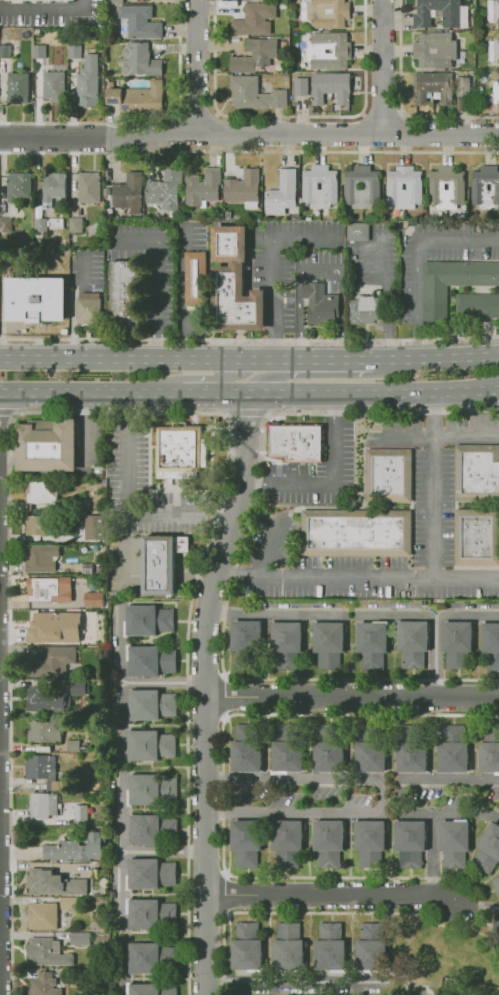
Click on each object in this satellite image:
building: (39, 1)
building: (115, 2)
road: (46, 9)
building: (493, 10)
building: (326, 13)
building: (441, 14)
building: (255, 19)
building: (138, 23)
building: (8, 48)
building: (37, 50)
building: (435, 50)
building: (494, 50)
building: (72, 51)
building: (328, 51)
building: (256, 55)
building: (139, 60)
road: (380, 66)
road: (196, 67)
building: (86, 81)
building: (52, 85)
building: (463, 86)
building: (17, 87)
building: (301, 87)
building: (433, 87)
building: (331, 88)
road: (177, 93)
building: (255, 94)
building: (494, 95)
building: (138, 98)
road: (399, 105)
road: (381, 110)
road: (197, 111)
road: (290, 117)
road: (52, 124)
road: (210, 131)
road: (395, 131)
road: (183, 132)
road: (301, 133)
road: (365, 133)
road: (52, 140)
road: (248, 152)
building: (17, 185)
building: (88, 186)
building: (310, 186)
building: (352, 186)
building: (437, 186)
building: (51, 187)
building: (404, 187)
building: (202, 188)
building: (486, 188)
building: (244, 189)
building: (166, 191)
building: (283, 191)
building: (129, 193)
building: (107, 197)
building: (38, 224)
building: (357, 231)
road: (414, 257)
road: (273, 267)
road: (318, 269)
building: (194, 277)
building: (234, 282)
building: (452, 284)
road: (153, 285)
building: (123, 295)
building: (319, 304)
road: (71, 307)
building: (477, 307)
building: (365, 310)
building: (87, 312)
road: (435, 358)
road: (329, 359)
road: (144, 360)
road: (265, 375)
road: (240, 379)
road: (374, 395)
road: (90, 396)
road: (206, 397)
road: (239, 397)
road: (441, 436)
building: (294, 441)
building: (46, 446)
building: (180, 451)
building: (477, 473)
building: (389, 476)
road: (329, 483)
road: (432, 486)
building: (43, 492)
road: (125, 510)
building: (37, 524)
building: (92, 528)
building: (355, 532)
building: (477, 538)
road: (223, 547)
building: (37, 557)
building: (160, 564)
road: (358, 577)
building: (44, 590)
building: (92, 599)
road: (354, 615)
building: (147, 618)
building: (54, 627)
building: (246, 642)
building: (287, 643)
building: (372, 643)
building: (456, 643)
building: (329, 644)
building: (415, 644)
building: (490, 644)
road: (434, 657)
building: (54, 659)
building: (151, 660)
road: (161, 681)
building: (79, 695)
building: (39, 699)
road: (352, 699)
building: (149, 703)
building: (38, 732)
building: (246, 745)
building: (287, 745)
building: (327, 746)
building: (151, 747)
building: (411, 747)
building: (369, 749)
building: (451, 749)
building: (489, 751)
building: (39, 767)
road: (117, 773)
building: (150, 791)
road: (380, 794)
building: (42, 806)
road: (436, 810)
building: (78, 814)
building: (151, 829)
building: (245, 839)
building: (287, 839)
building: (328, 841)
building: (371, 841)
building: (455, 842)
building: (412, 843)
building: (96, 845)
road: (207, 847)
building: (64, 850)
building: (488, 851)
road: (433, 856)
building: (72, 868)
building: (148, 873)
building: (98, 881)
building: (51, 882)
building: (497, 885)
road: (119, 888)
road: (330, 900)
building: (70, 903)
road: (476, 903)
building: (149, 910)
building: (42, 915)
building: (496, 925)
building: (78, 941)
building: (329, 947)
building: (288, 948)
building: (247, 949)
building: (370, 949)
building: (47, 953)
building: (149, 955)
road: (296, 984)
building: (43, 985)
building: (151, 988)

